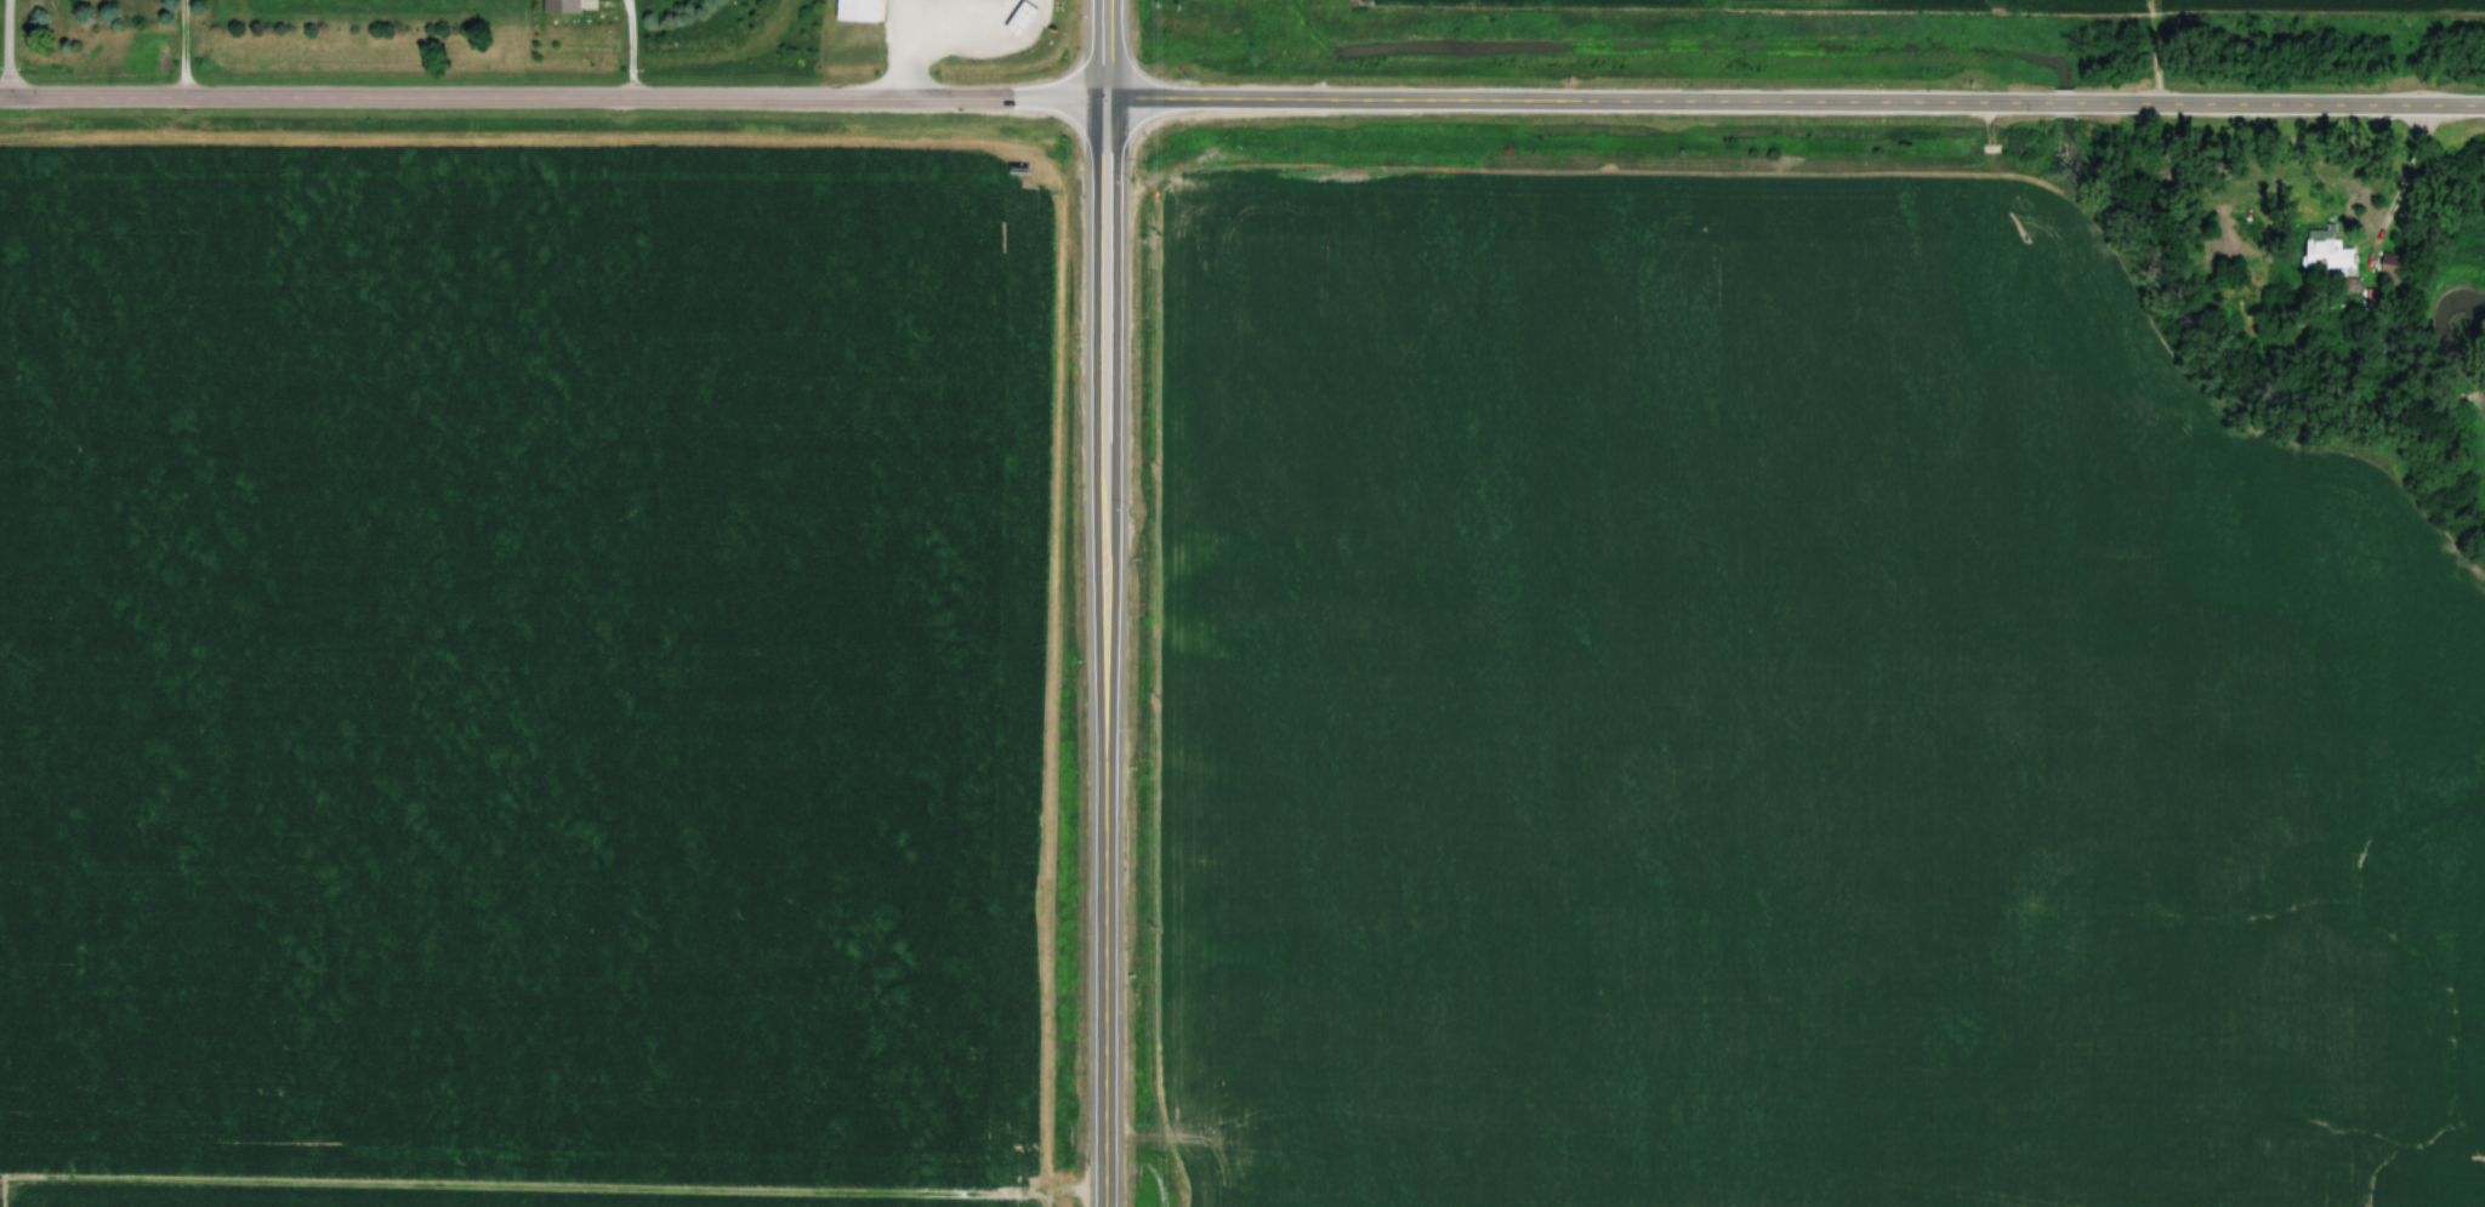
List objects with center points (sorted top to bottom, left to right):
road: (631, 1)
road: (631, 1)
building: (563, 7)
road: (912, 17)
building: (1024, 19)
gas station: (1024, 19)
road: (965, 27)
road: (11, 47)
road: (186, 49)
road: (635, 51)
road: (909, 68)
road: (555, 99)
road: (1797, 106)
building: (2327, 251)
building: (2394, 268)
river: (2450, 317)
road: (1109, 603)

